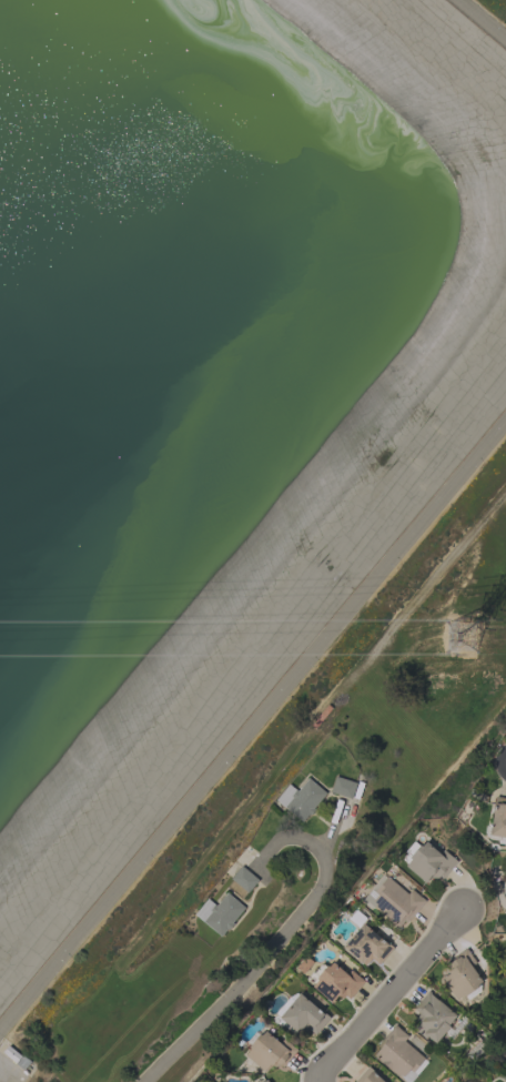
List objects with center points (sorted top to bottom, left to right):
road: (483, 18)
road: (423, 590)
power tower: (459, 641)
building: (321, 716)
road: (253, 727)
building: (344, 787)
building: (302, 798)
building: (498, 821)
building: (429, 862)
building: (245, 879)
building: (393, 900)
building: (221, 913)
building: (357, 918)
road: (273, 942)
building: (367, 946)
building: (463, 975)
building: (334, 981)
road: (392, 999)
building: (302, 1014)
building: (435, 1018)
building: (269, 1051)
building: (399, 1054)
building: (17, 1058)
building: (24, 1072)
building: (368, 1075)
building: (266, 1081)

